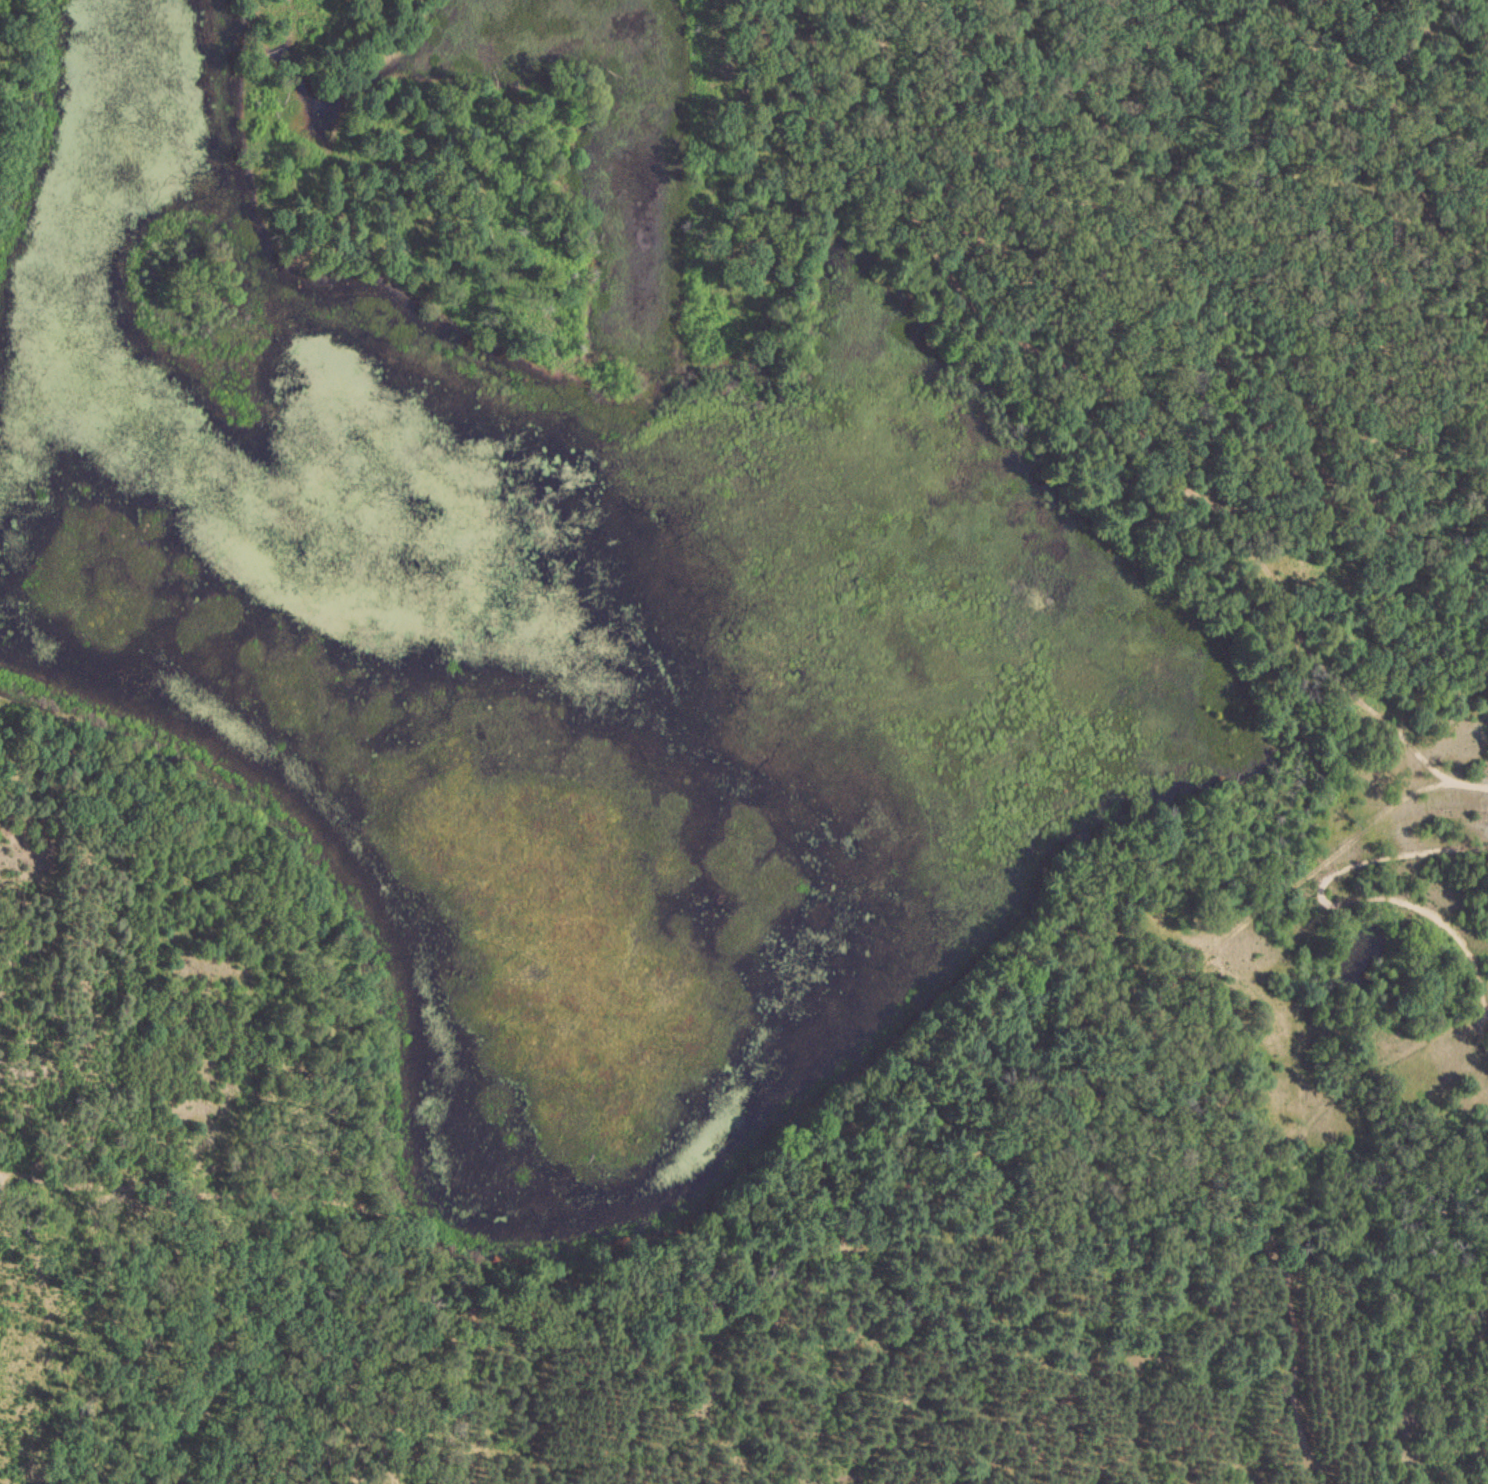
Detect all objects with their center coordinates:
road: (1301, 1208)
road: (739, 1240)
road: (1277, 1376)

